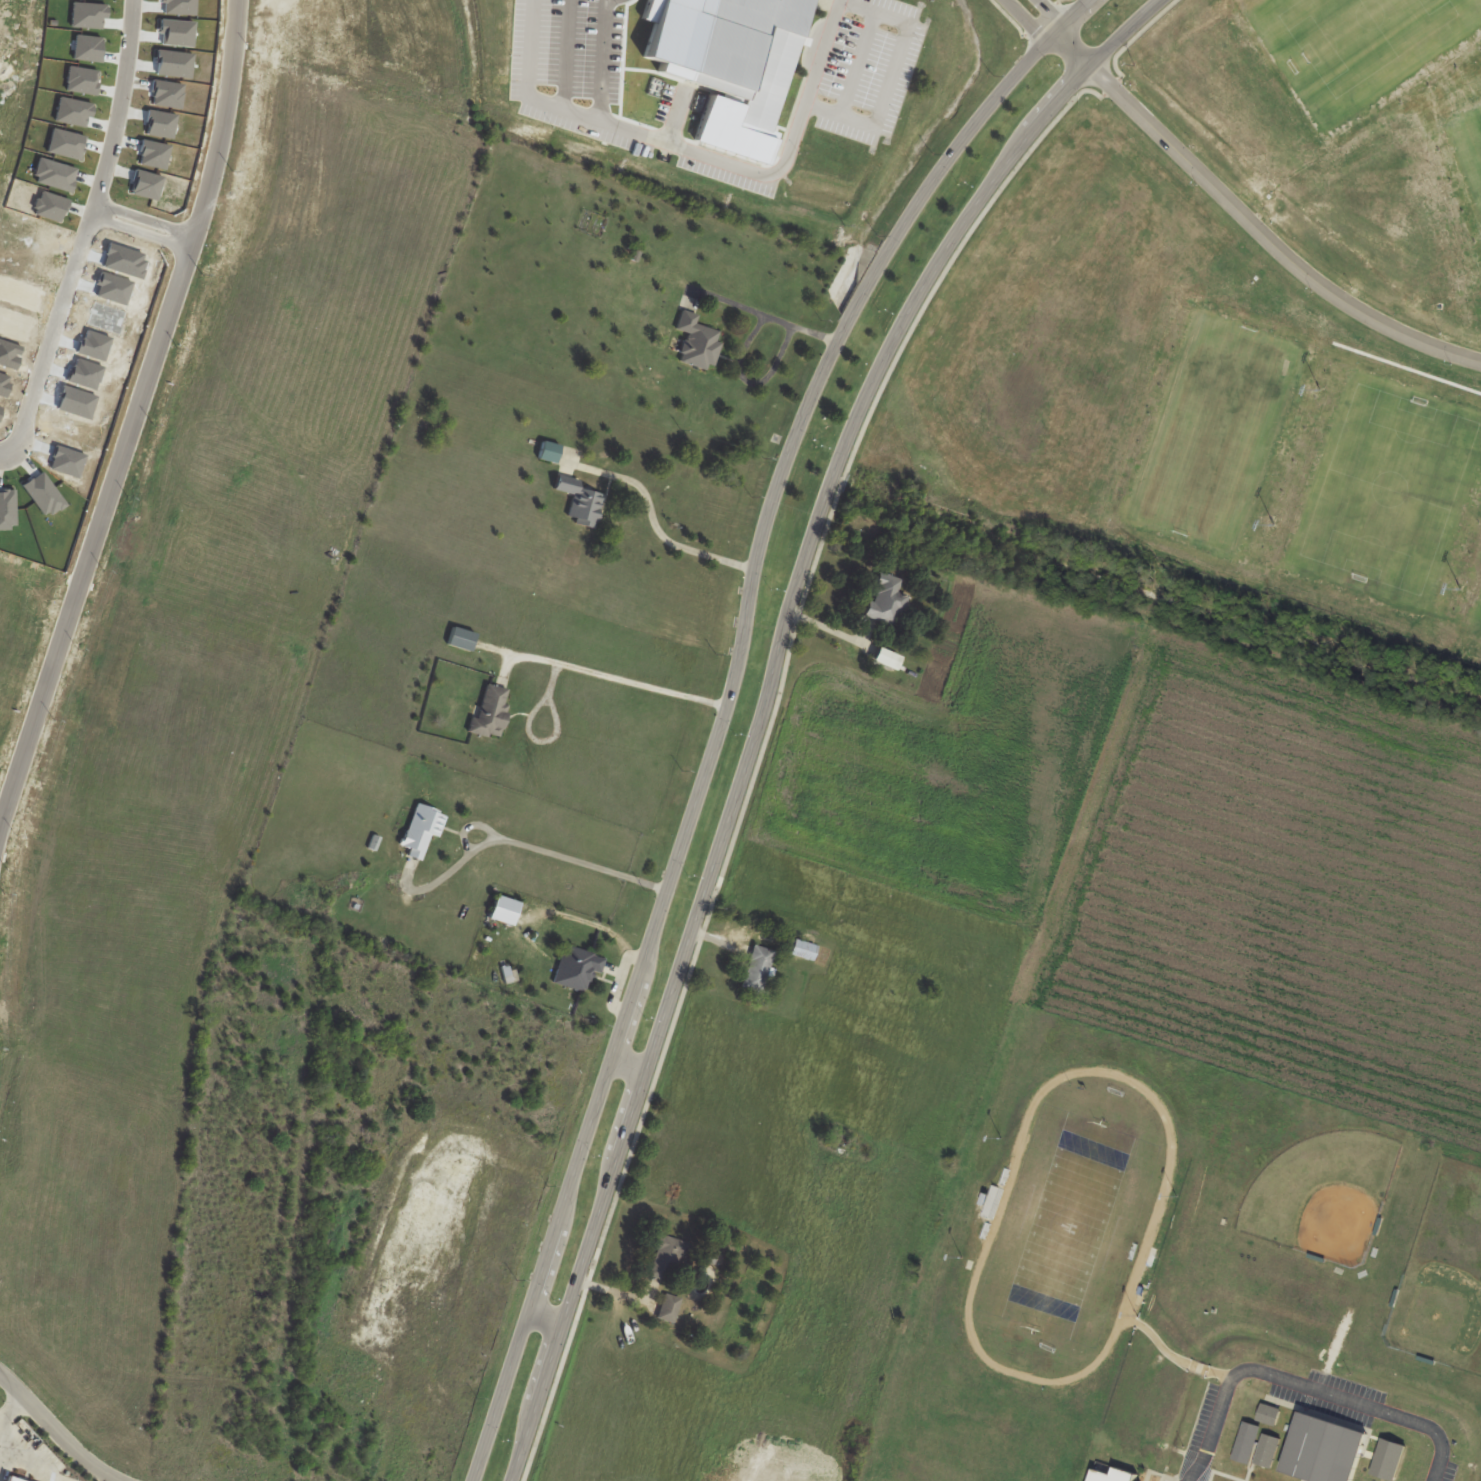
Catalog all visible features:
road: (608, 1)
road: (1036, 17)
road: (1073, 17)
building: (749, 58)
road: (602, 59)
parking lot: (872, 69)
parking lot: (862, 70)
road: (889, 75)
road: (547, 102)
road: (118, 106)
road: (220, 122)
park: (1340, 137)
road: (781, 163)
road: (1250, 223)
road: (142, 226)
road: (54, 331)
building: (697, 342)
road: (744, 350)
road: (5, 452)
building: (549, 452)
building: (579, 502)
road: (656, 524)
road: (94, 527)
building: (885, 601)
road: (620, 684)
road: (769, 702)
building: (490, 712)
road: (721, 732)
building: (422, 830)
road: (574, 858)
building: (503, 910)
building: (803, 950)
building: (577, 967)
building: (758, 969)
road: (630, 1069)
building: (667, 1259)
building: (670, 1308)
road: (548, 1318)
road: (1316, 1389)
road: (11, 1405)
building: (1269, 1416)
road: (60, 1431)
building: (1247, 1443)
building: (1323, 1450)
building: (1268, 1451)

